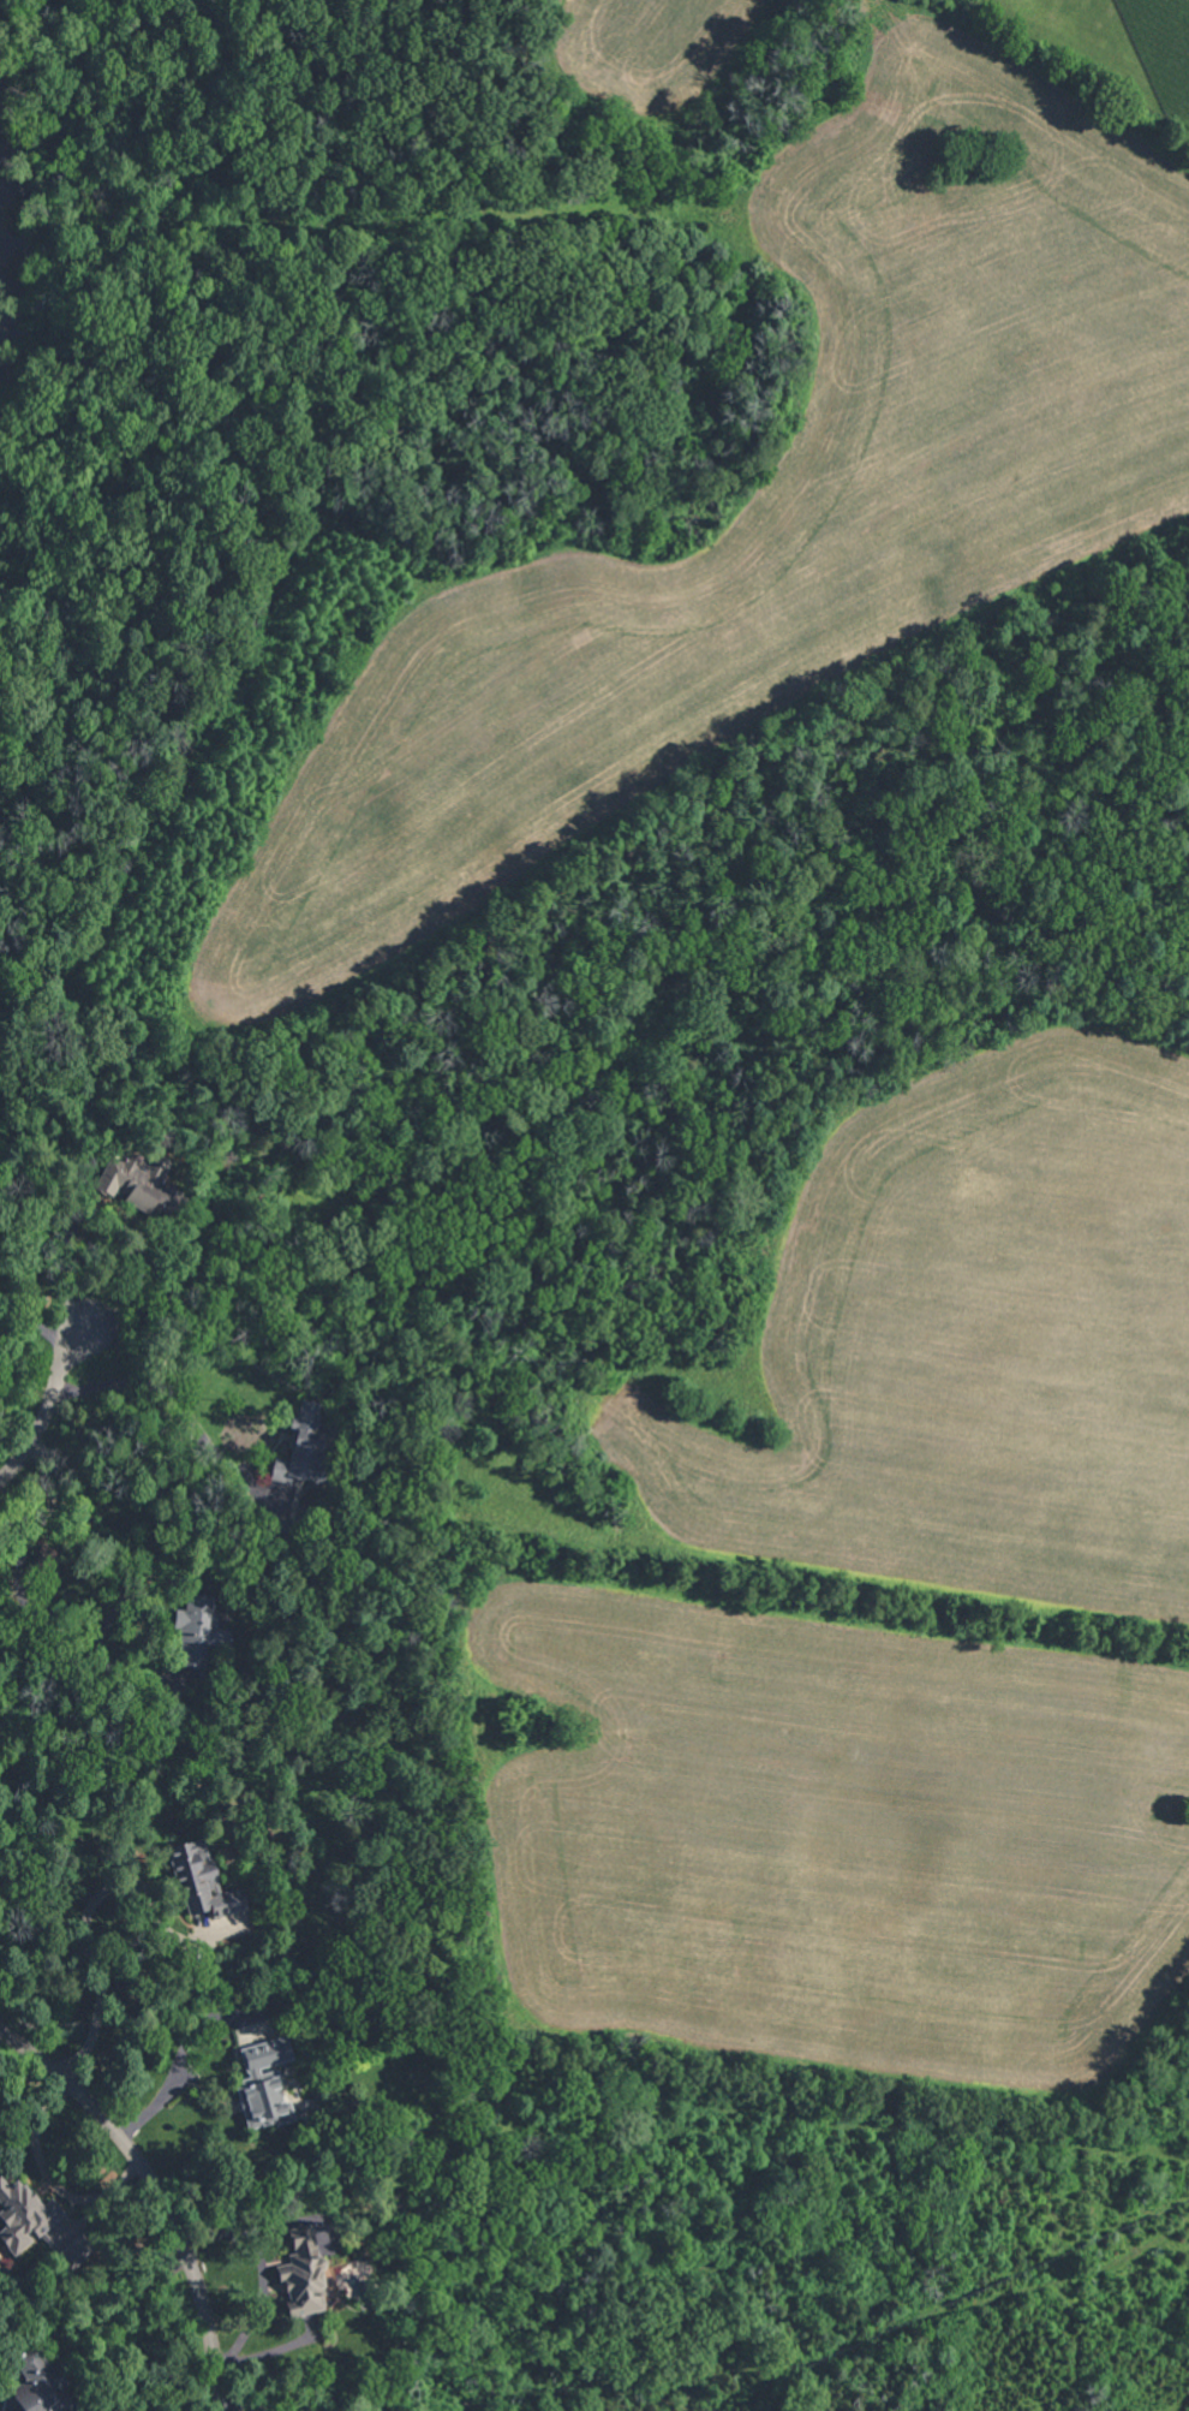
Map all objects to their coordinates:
river: (5, 254)
building: (136, 1183)
road: (108, 1213)
road: (38, 1328)
road: (166, 1387)
road: (47, 1409)
building: (297, 1442)
road: (68, 1630)
building: (190, 1630)
building: (196, 1880)
road: (85, 1935)
road: (178, 2062)
building: (258, 2083)
road: (159, 2191)
building: (20, 2216)
road: (259, 2270)
building: (297, 2272)
building: (24, 2381)
road: (262, 2400)

